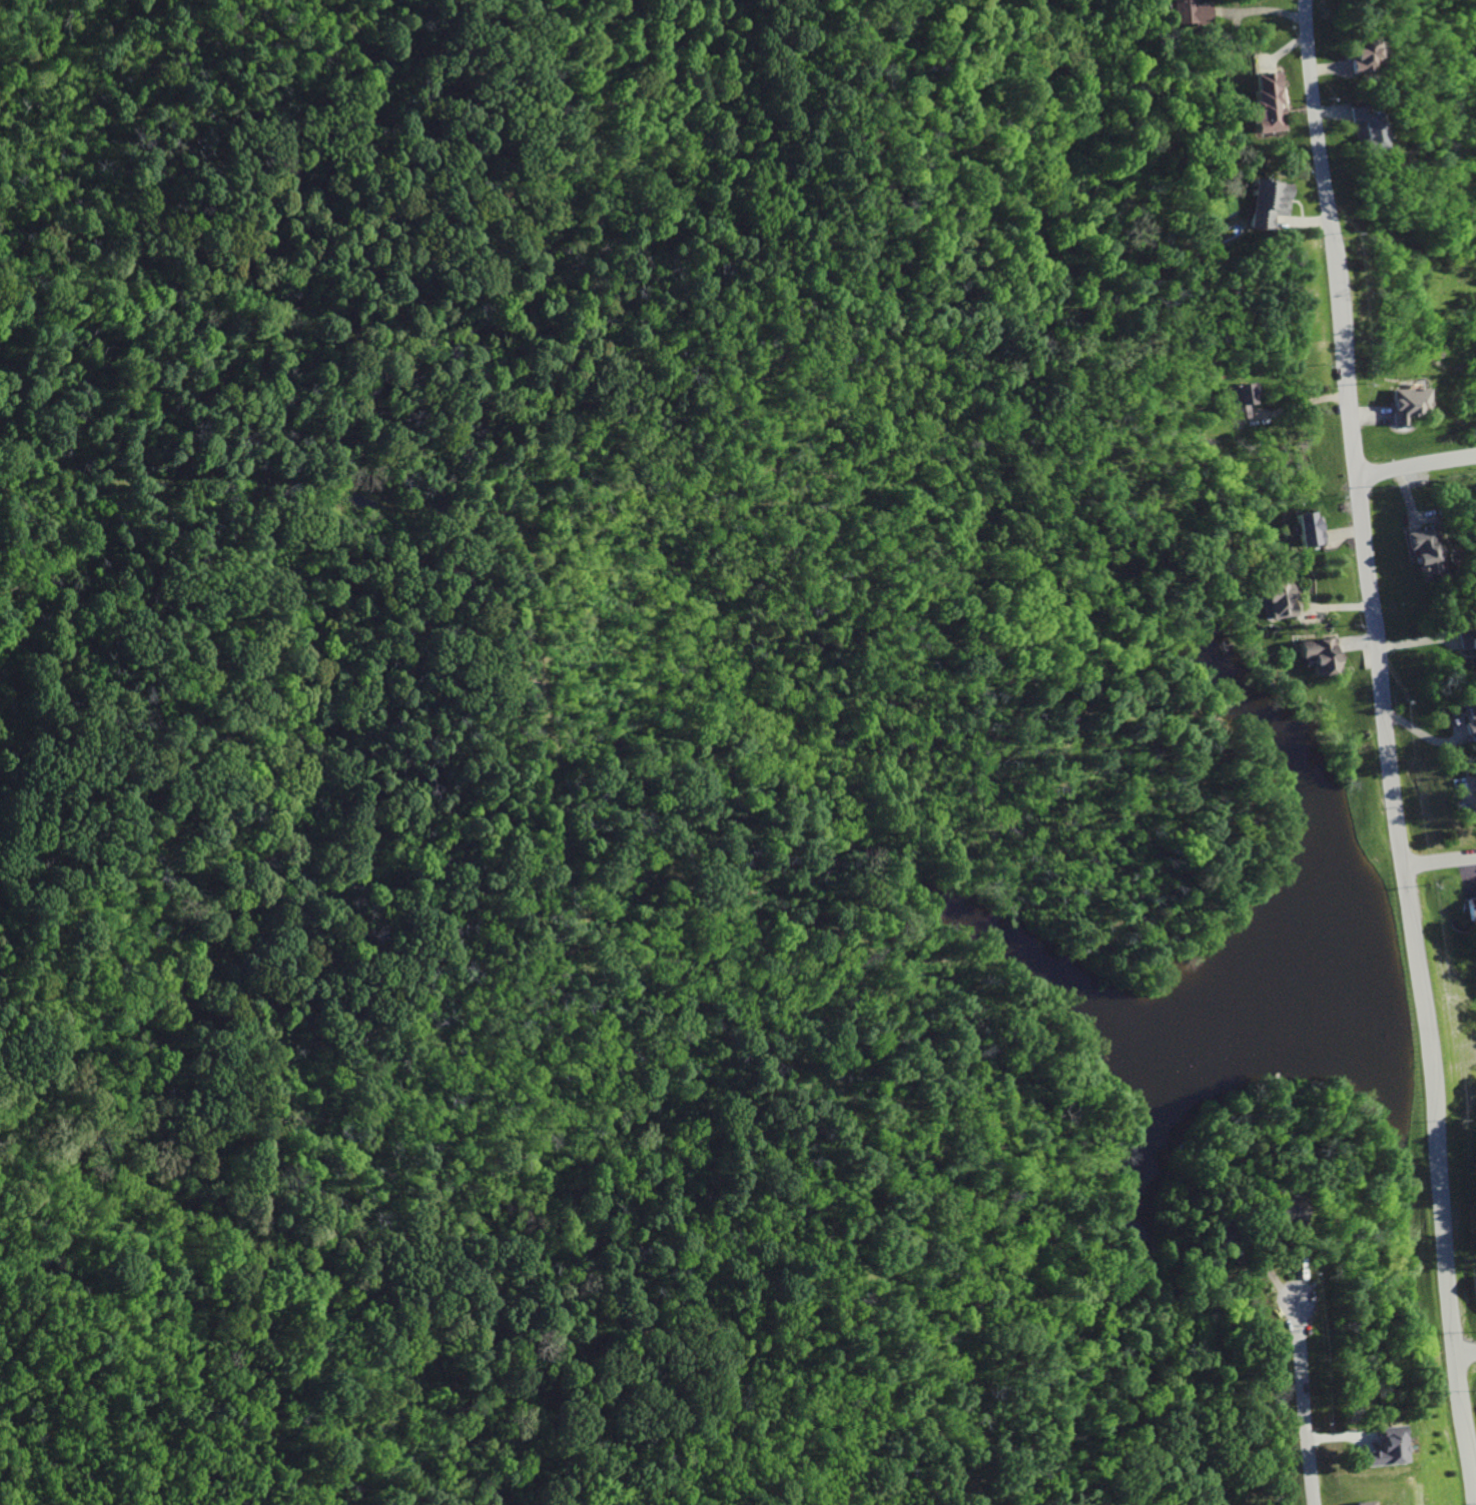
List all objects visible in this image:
road: (1263, 13)
building: (1199, 14)
building: (1354, 57)
building: (1262, 105)
road: (1311, 123)
building: (1359, 131)
building: (1260, 204)
road: (1330, 291)
building: (1235, 402)
building: (1402, 405)
road: (1414, 467)
building: (1301, 530)
building: (1414, 552)
building: (1276, 598)
building: (1465, 639)
building: (1313, 657)
building: (1463, 716)
building: (1468, 769)
road: (1436, 863)
building: (1467, 906)
road: (1405, 921)
road: (1465, 1355)
road: (1303, 1401)
building: (1380, 1448)
building: (1354, 1503)

